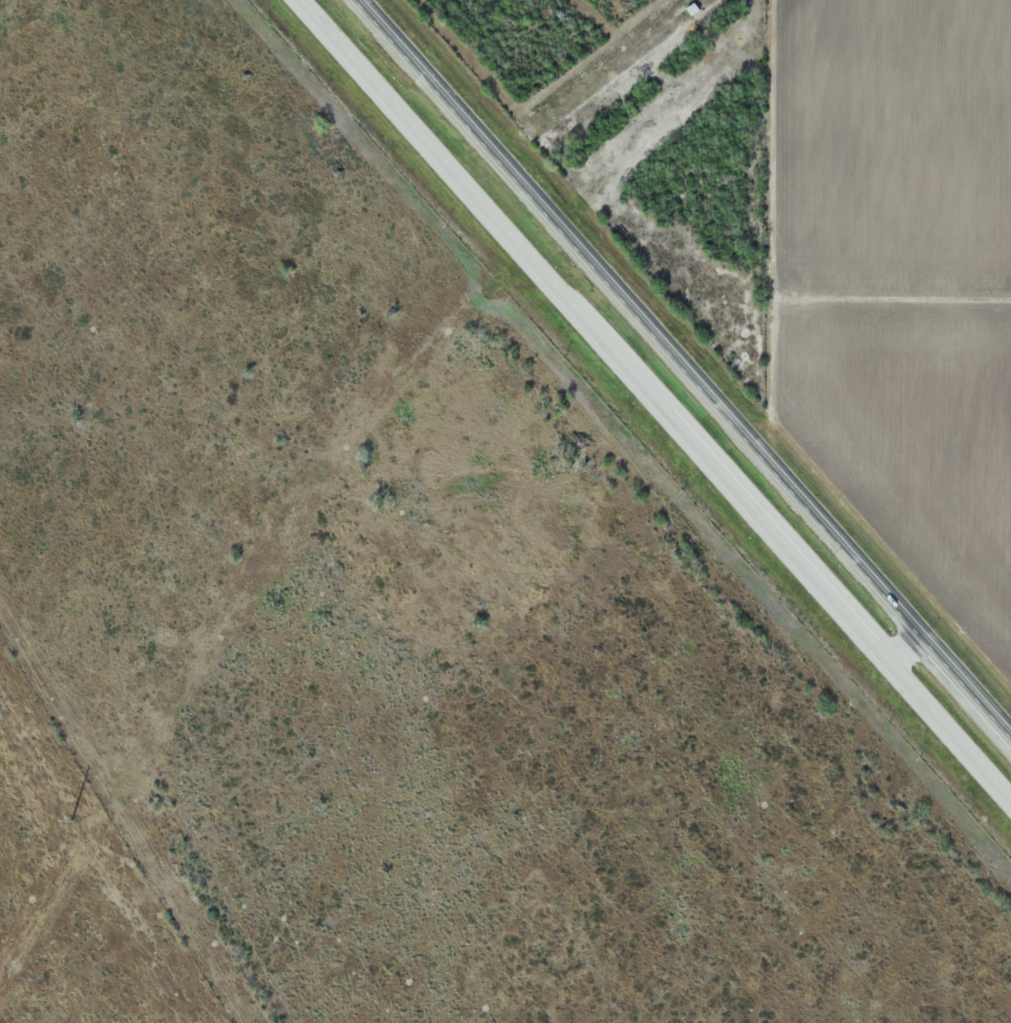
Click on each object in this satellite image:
road: (686, 365)
road: (654, 401)
power tower: (71, 821)

